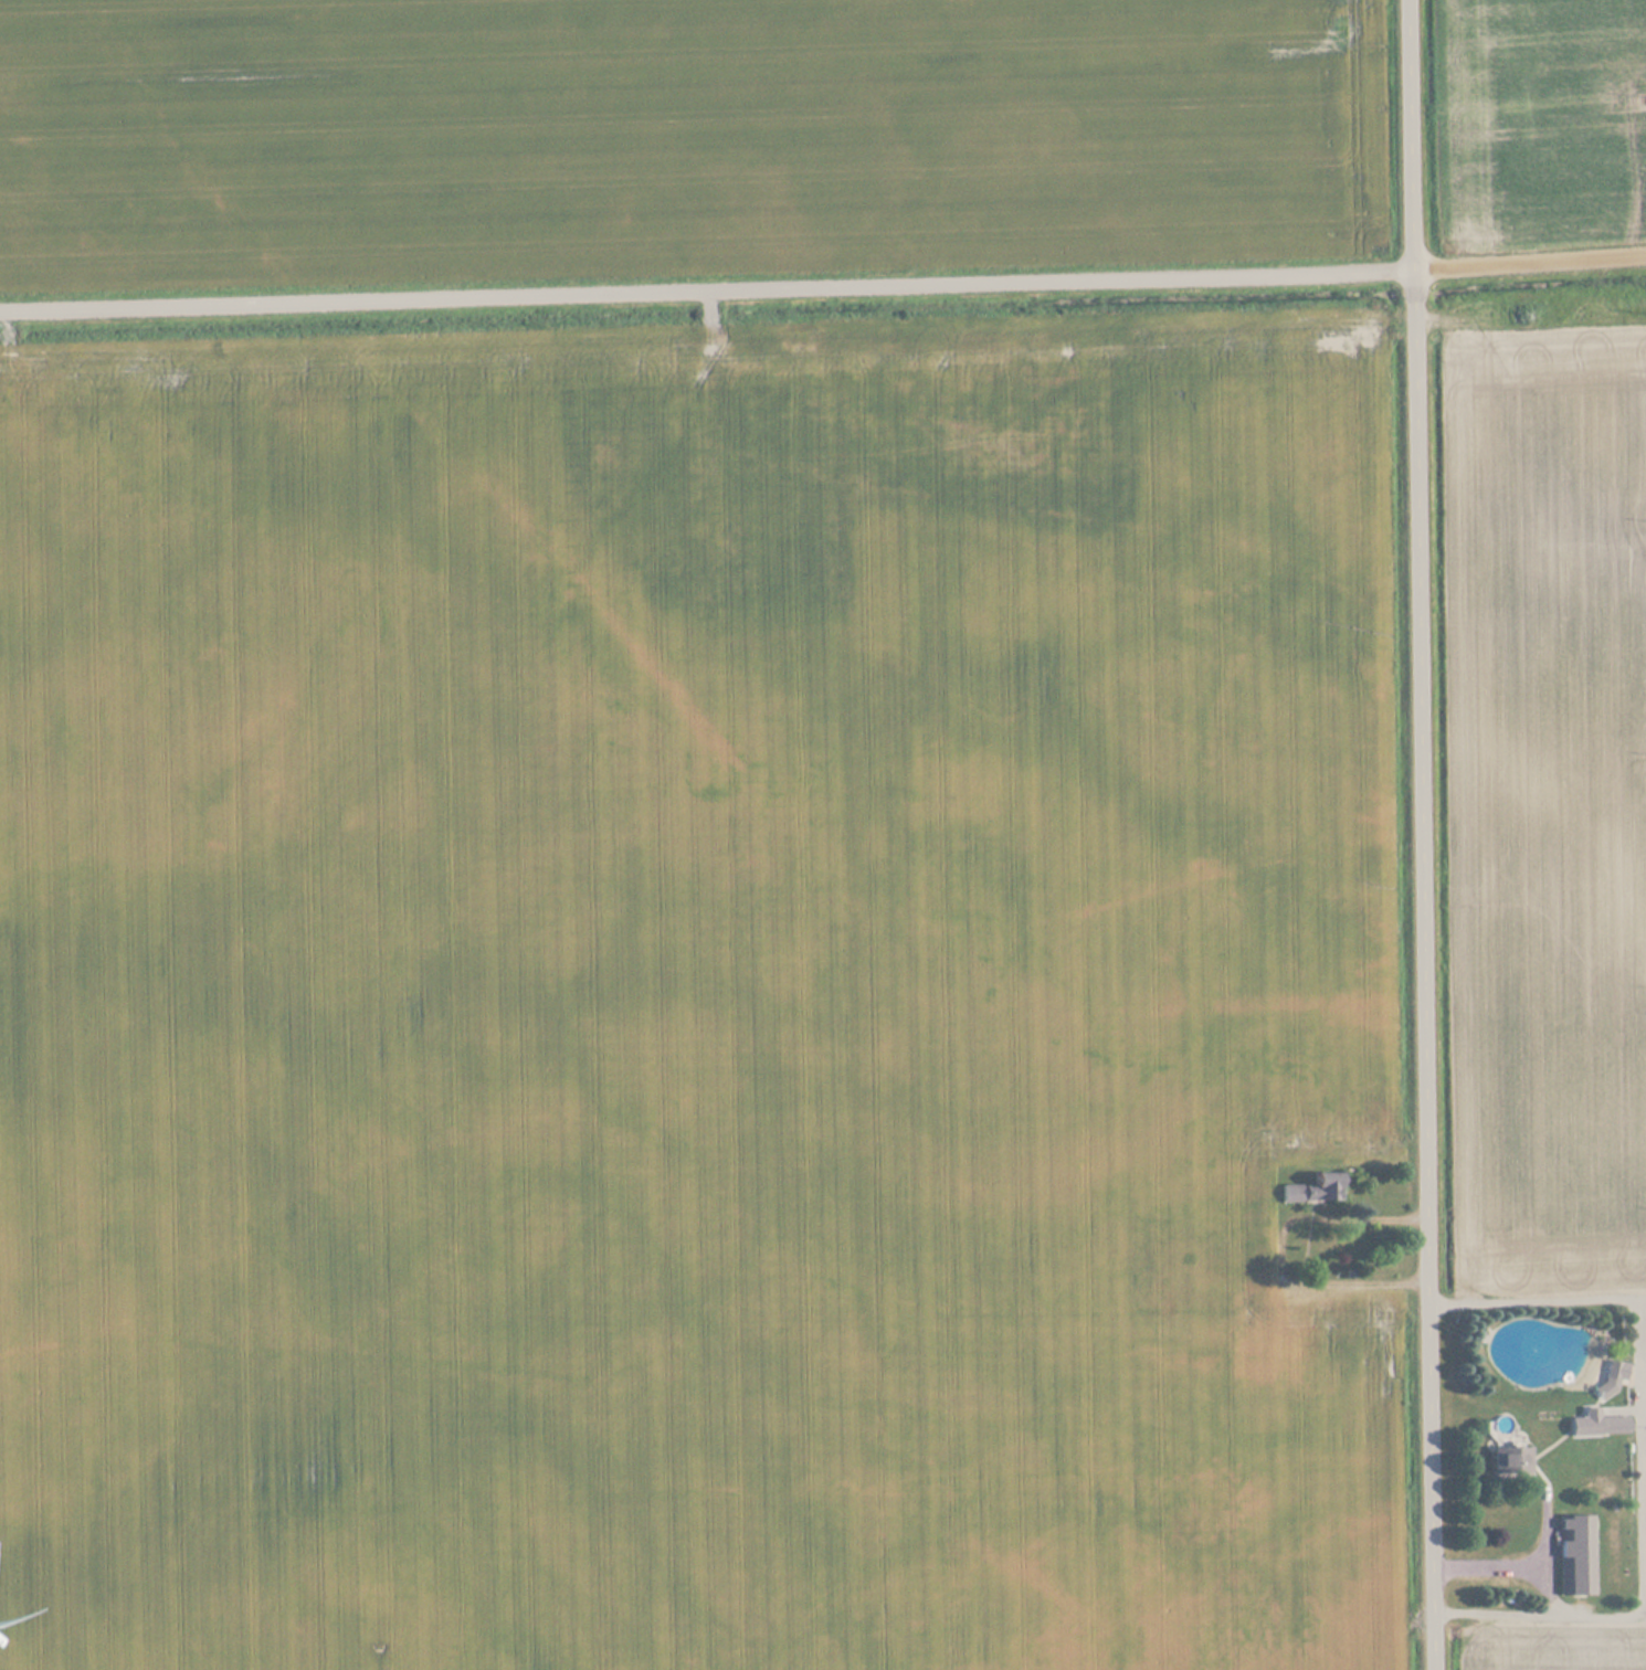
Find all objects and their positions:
road: (823, 285)
road: (1426, 834)
building: (1313, 1191)
building: (1600, 1426)
building: (1511, 1462)
building: (1576, 1554)

